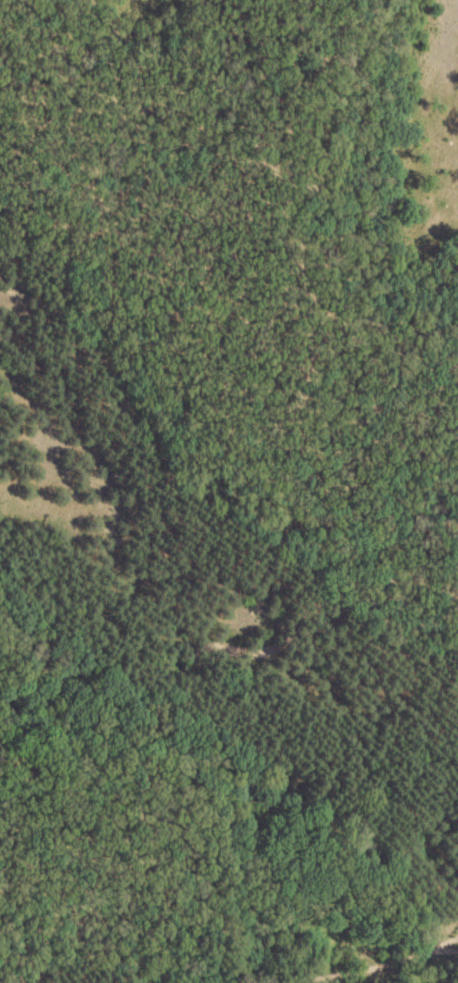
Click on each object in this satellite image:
road: (343, 942)

